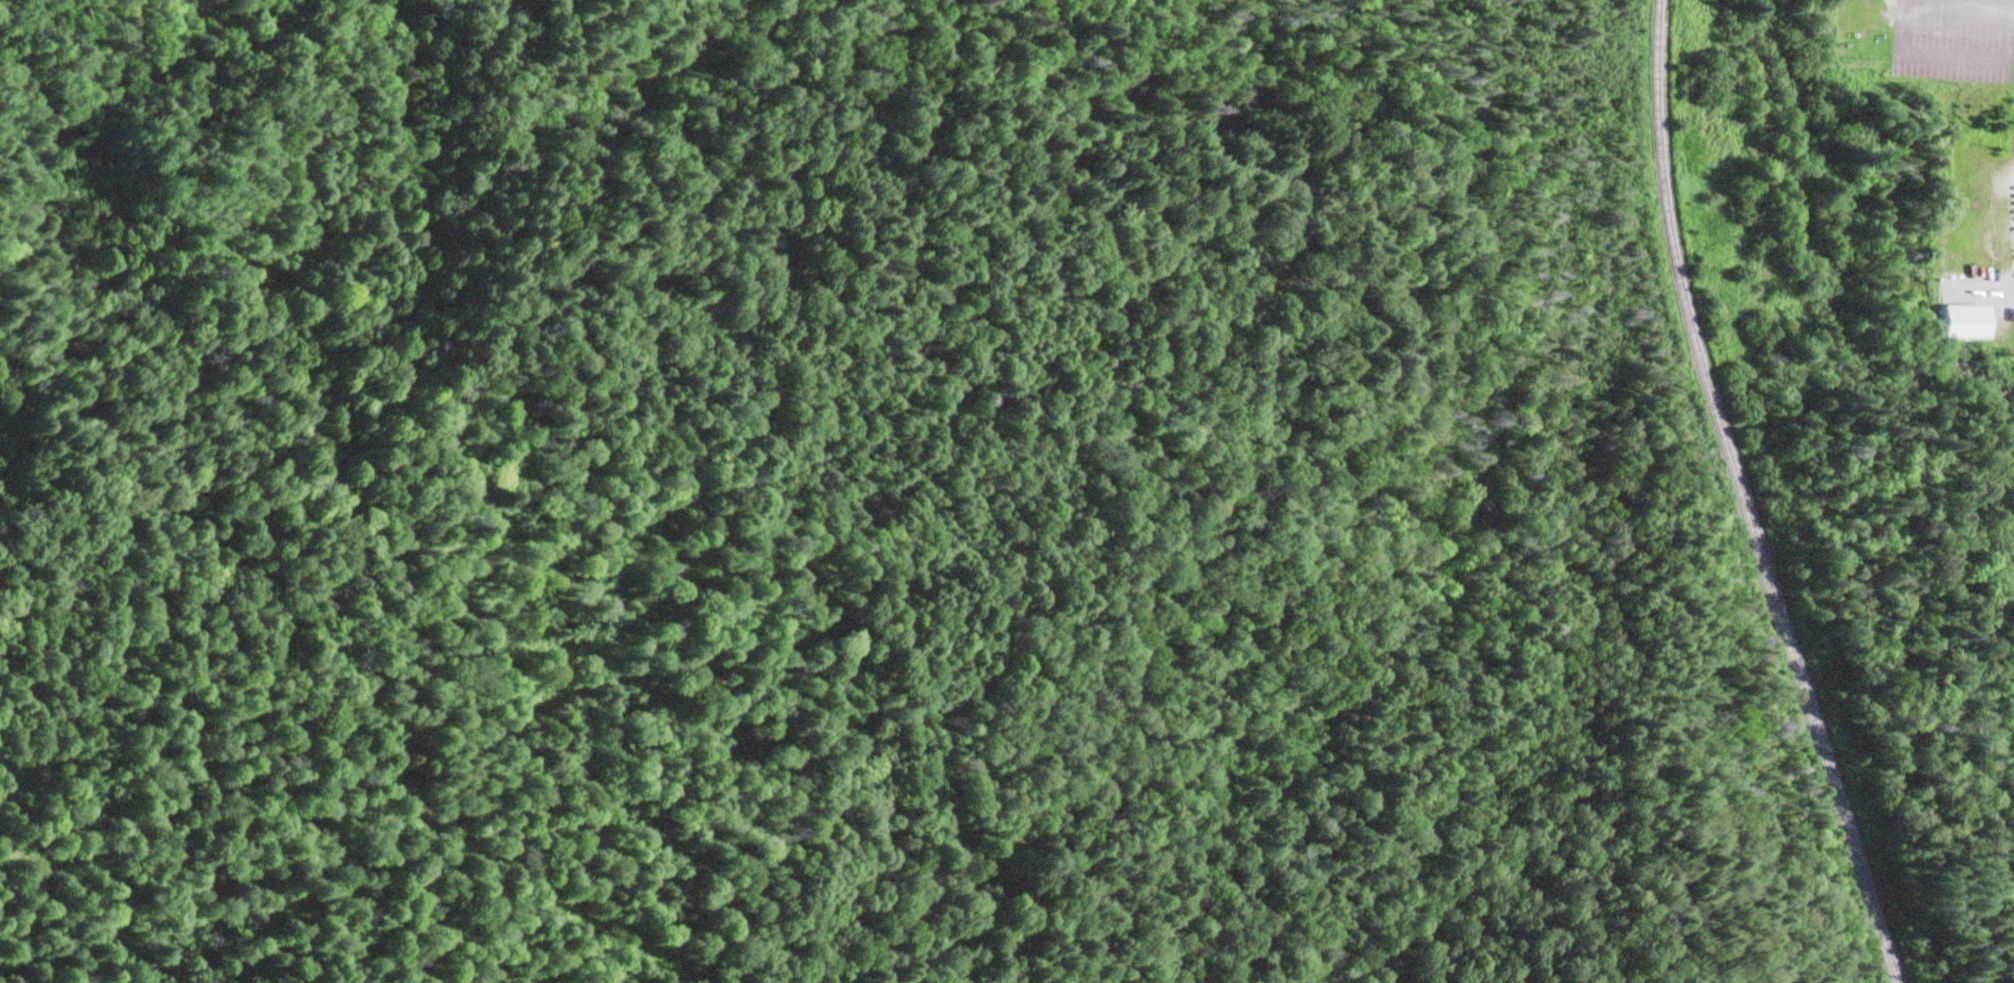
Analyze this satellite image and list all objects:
river: (1830, 286)
building: (1965, 324)
railway: (1742, 498)
river: (2010, 600)

